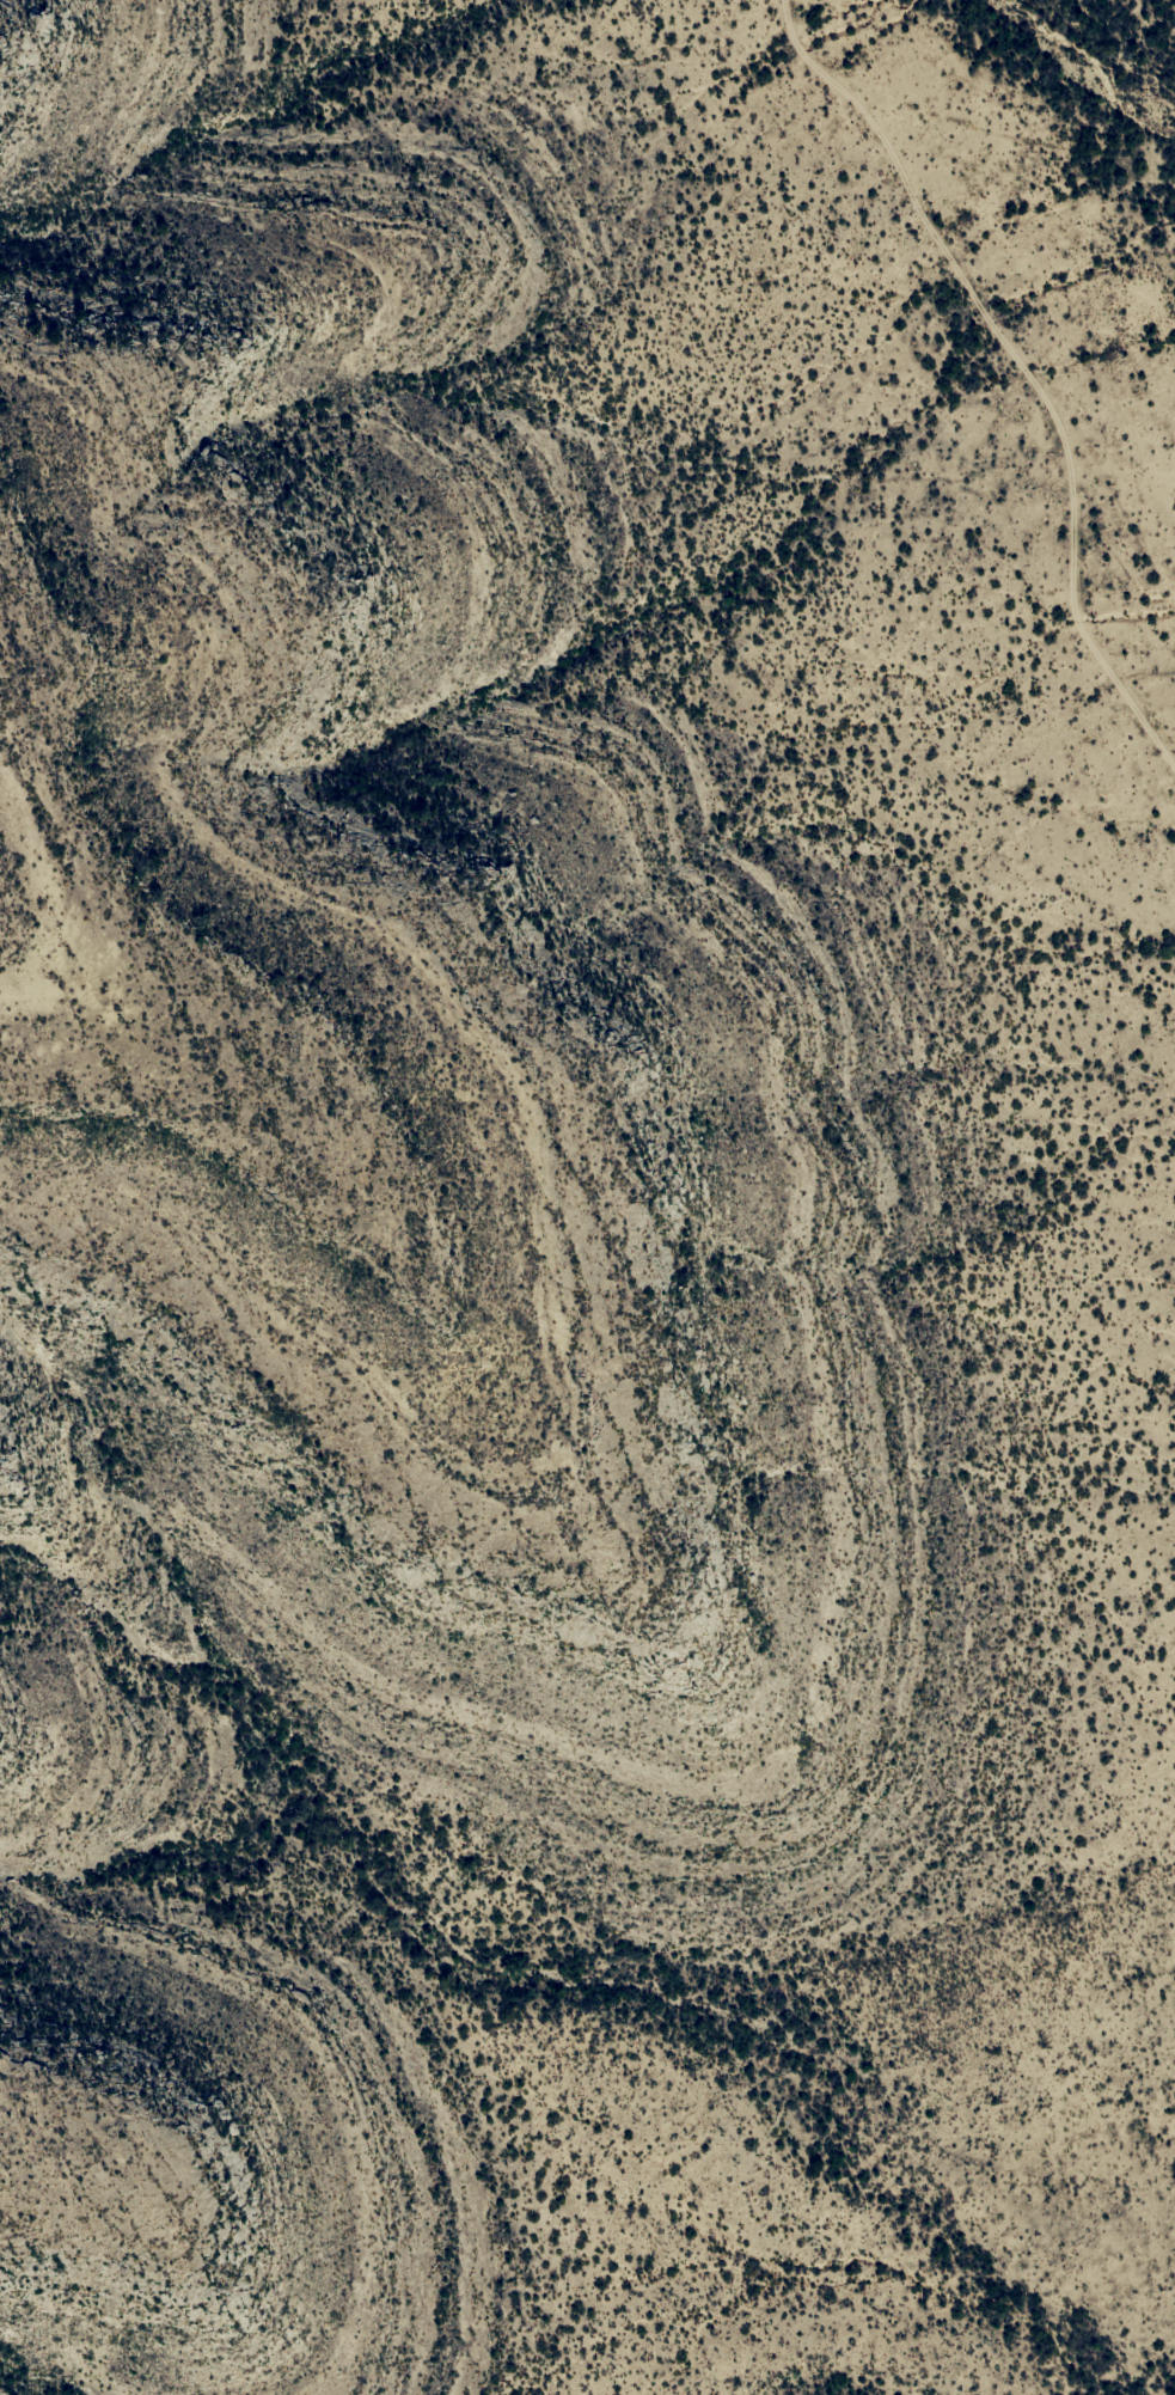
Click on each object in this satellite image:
road: (1022, 366)

